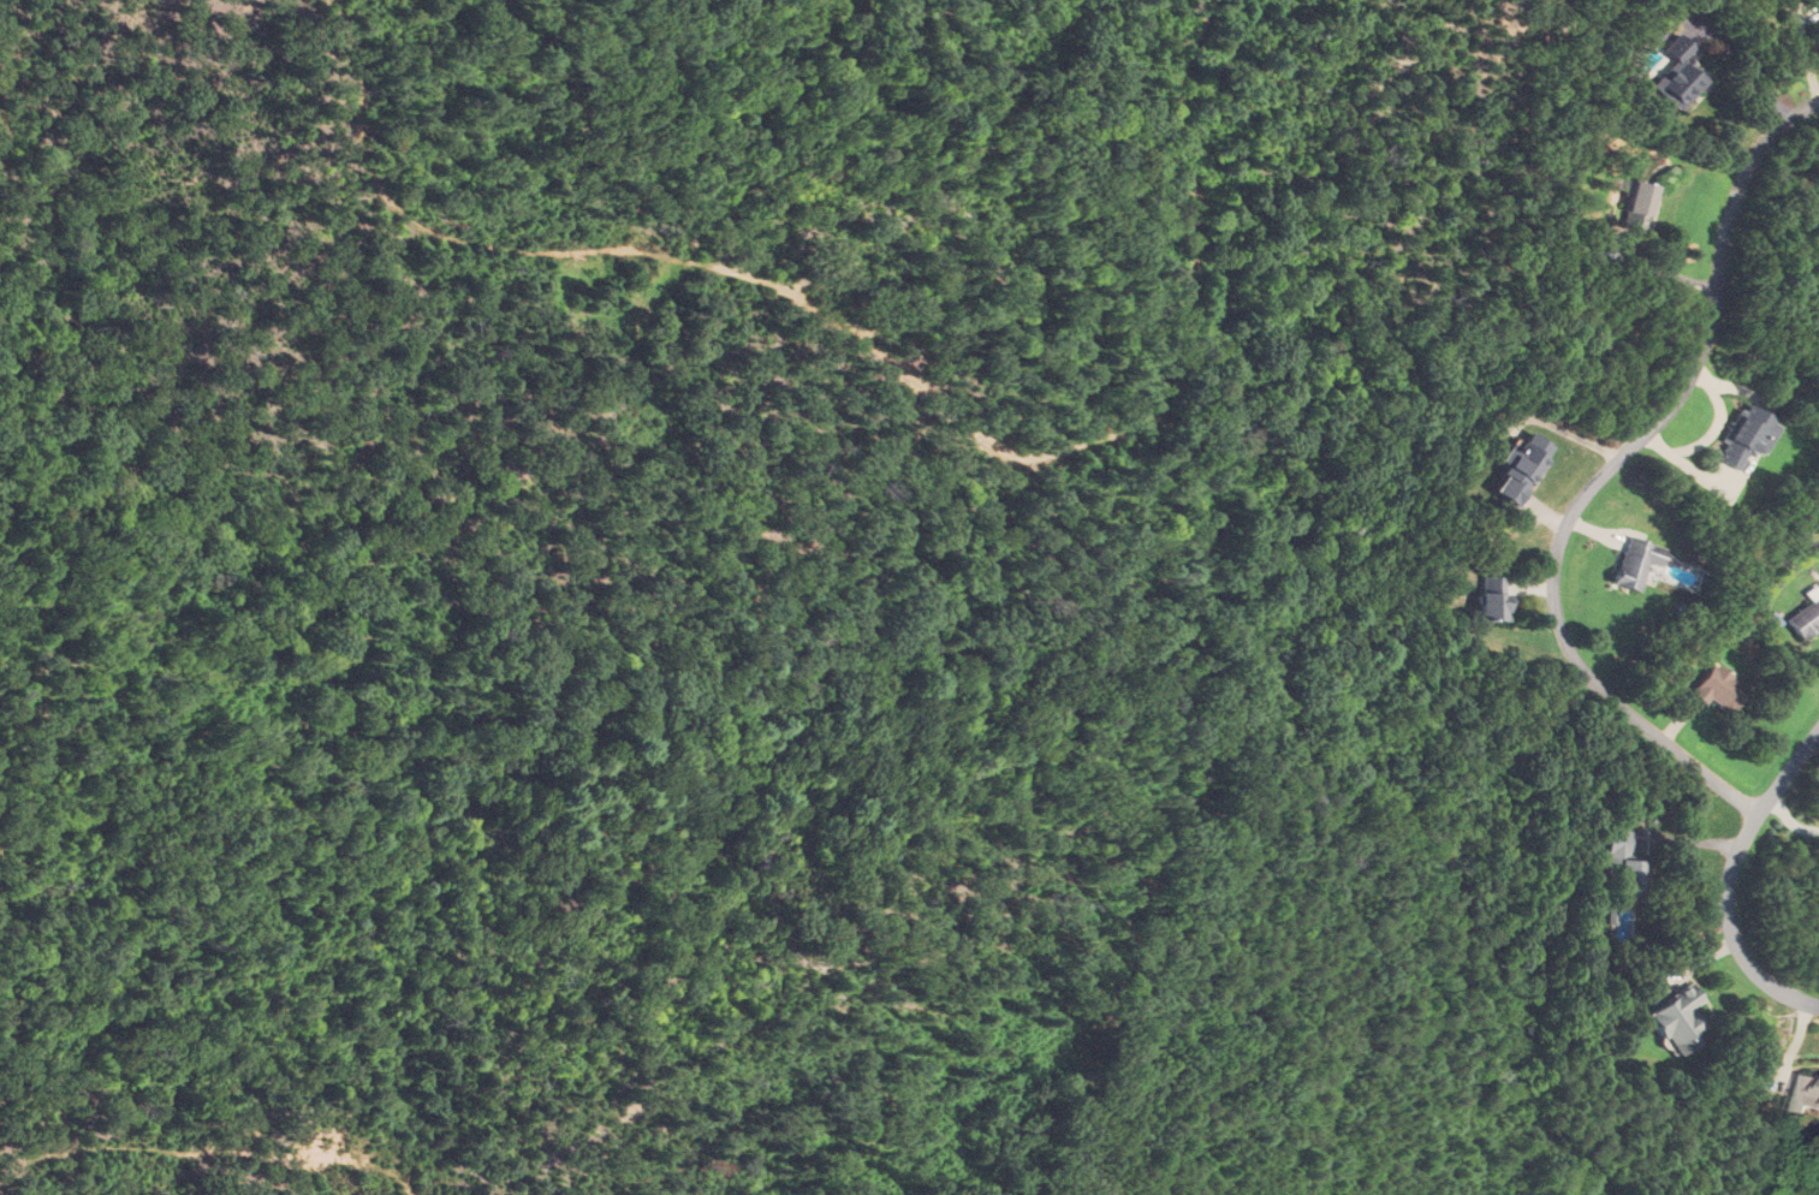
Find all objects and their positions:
building: (1677, 79)
building: (1635, 208)
building: (1744, 439)
building: (1518, 469)
road: (1605, 476)
building: (1633, 564)
building: (1491, 602)
building: (1803, 619)
building: (1716, 688)
building: (1623, 861)
road: (1728, 880)
building: (1675, 1018)
building: (1806, 1088)

